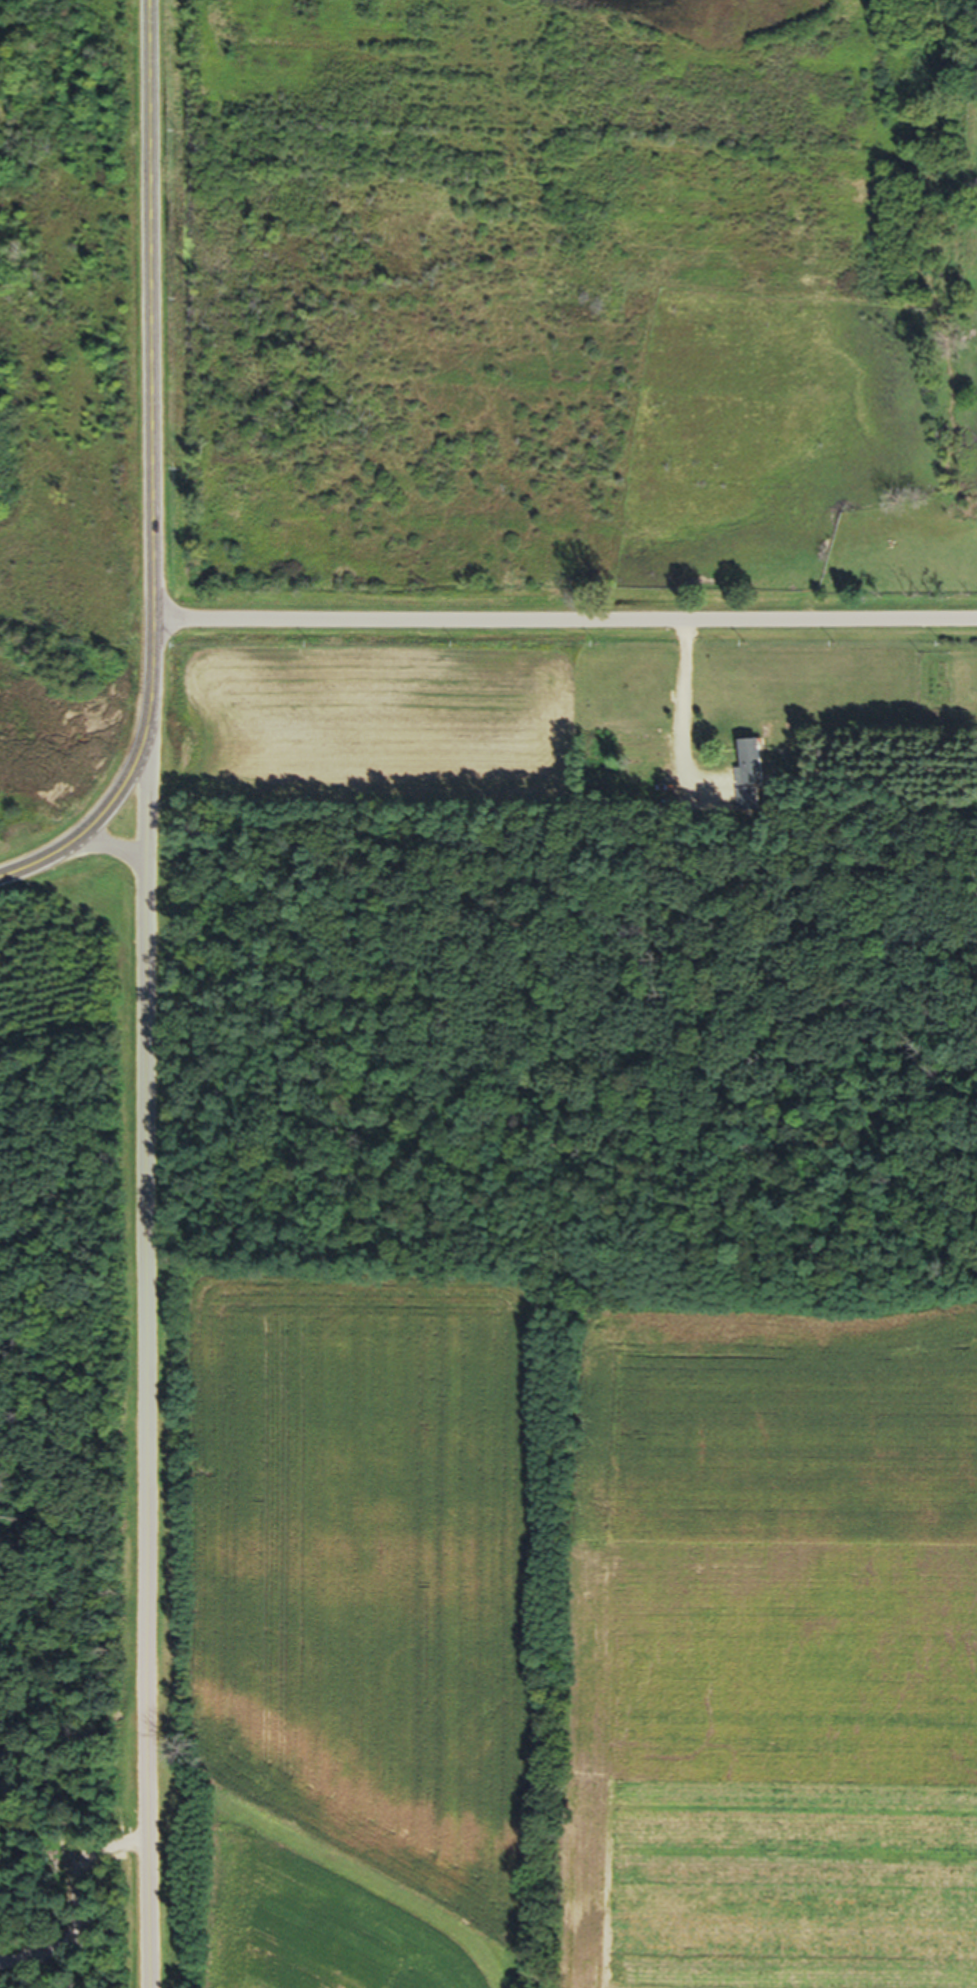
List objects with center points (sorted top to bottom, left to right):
road: (151, 474)
road: (565, 620)
building: (747, 768)
road: (146, 1345)
road: (73, 1903)

